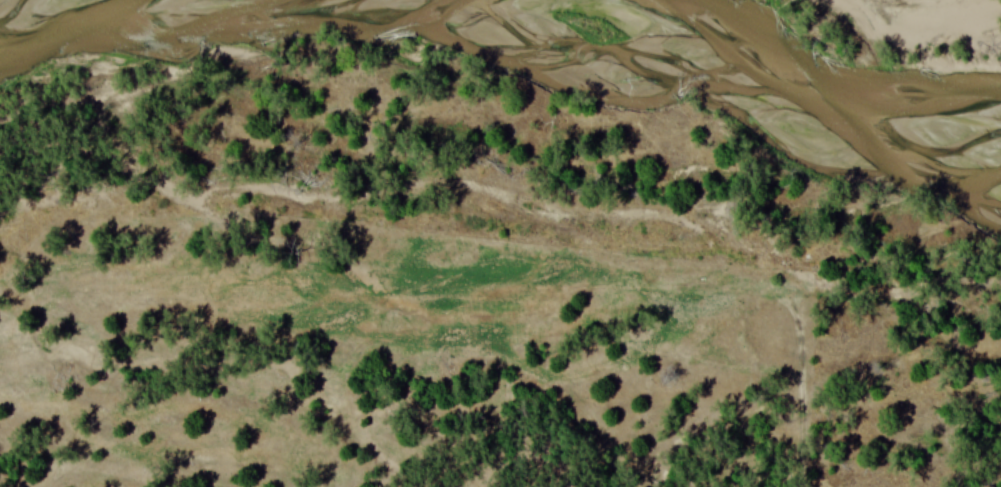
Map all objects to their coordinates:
river: (829, 105)

